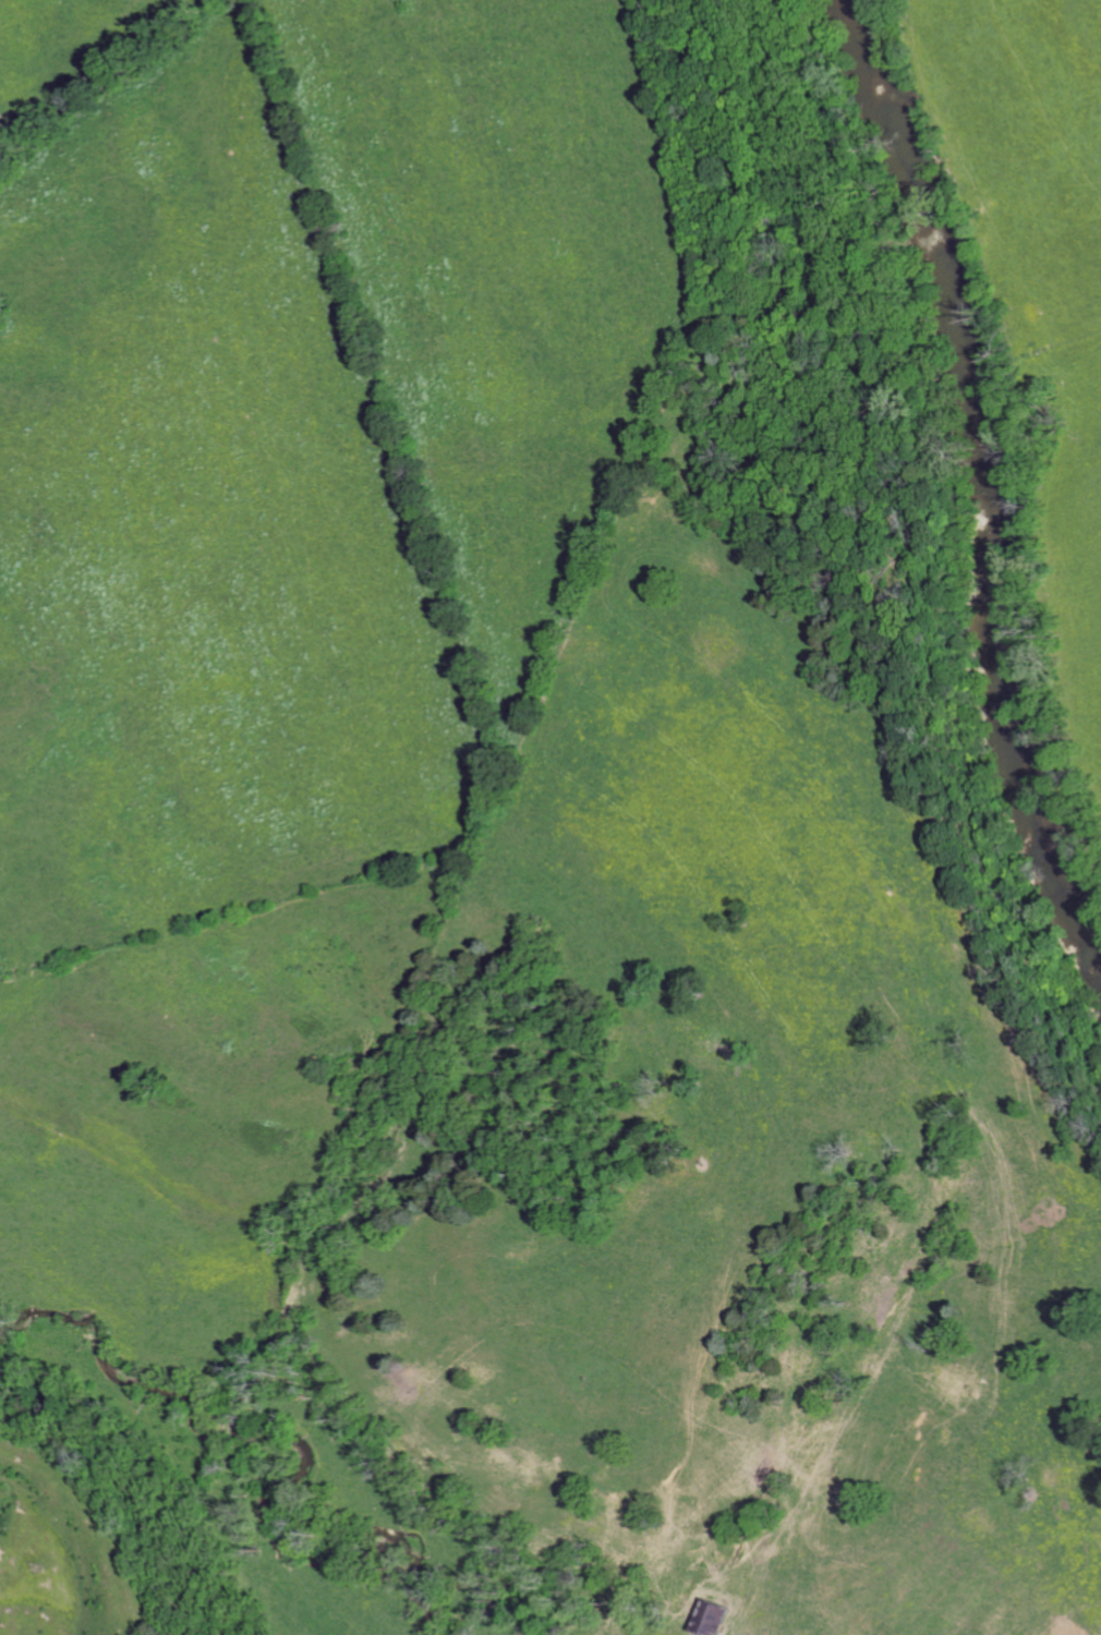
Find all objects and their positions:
building: (715, 1618)

